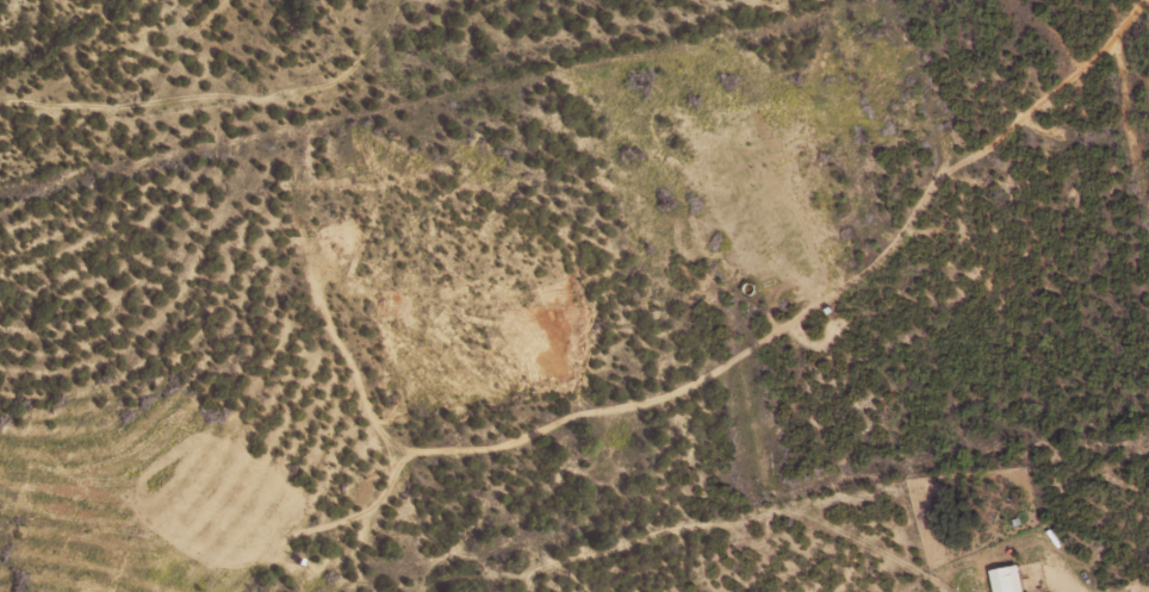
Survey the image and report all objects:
road: (862, 64)
building: (1006, 579)

